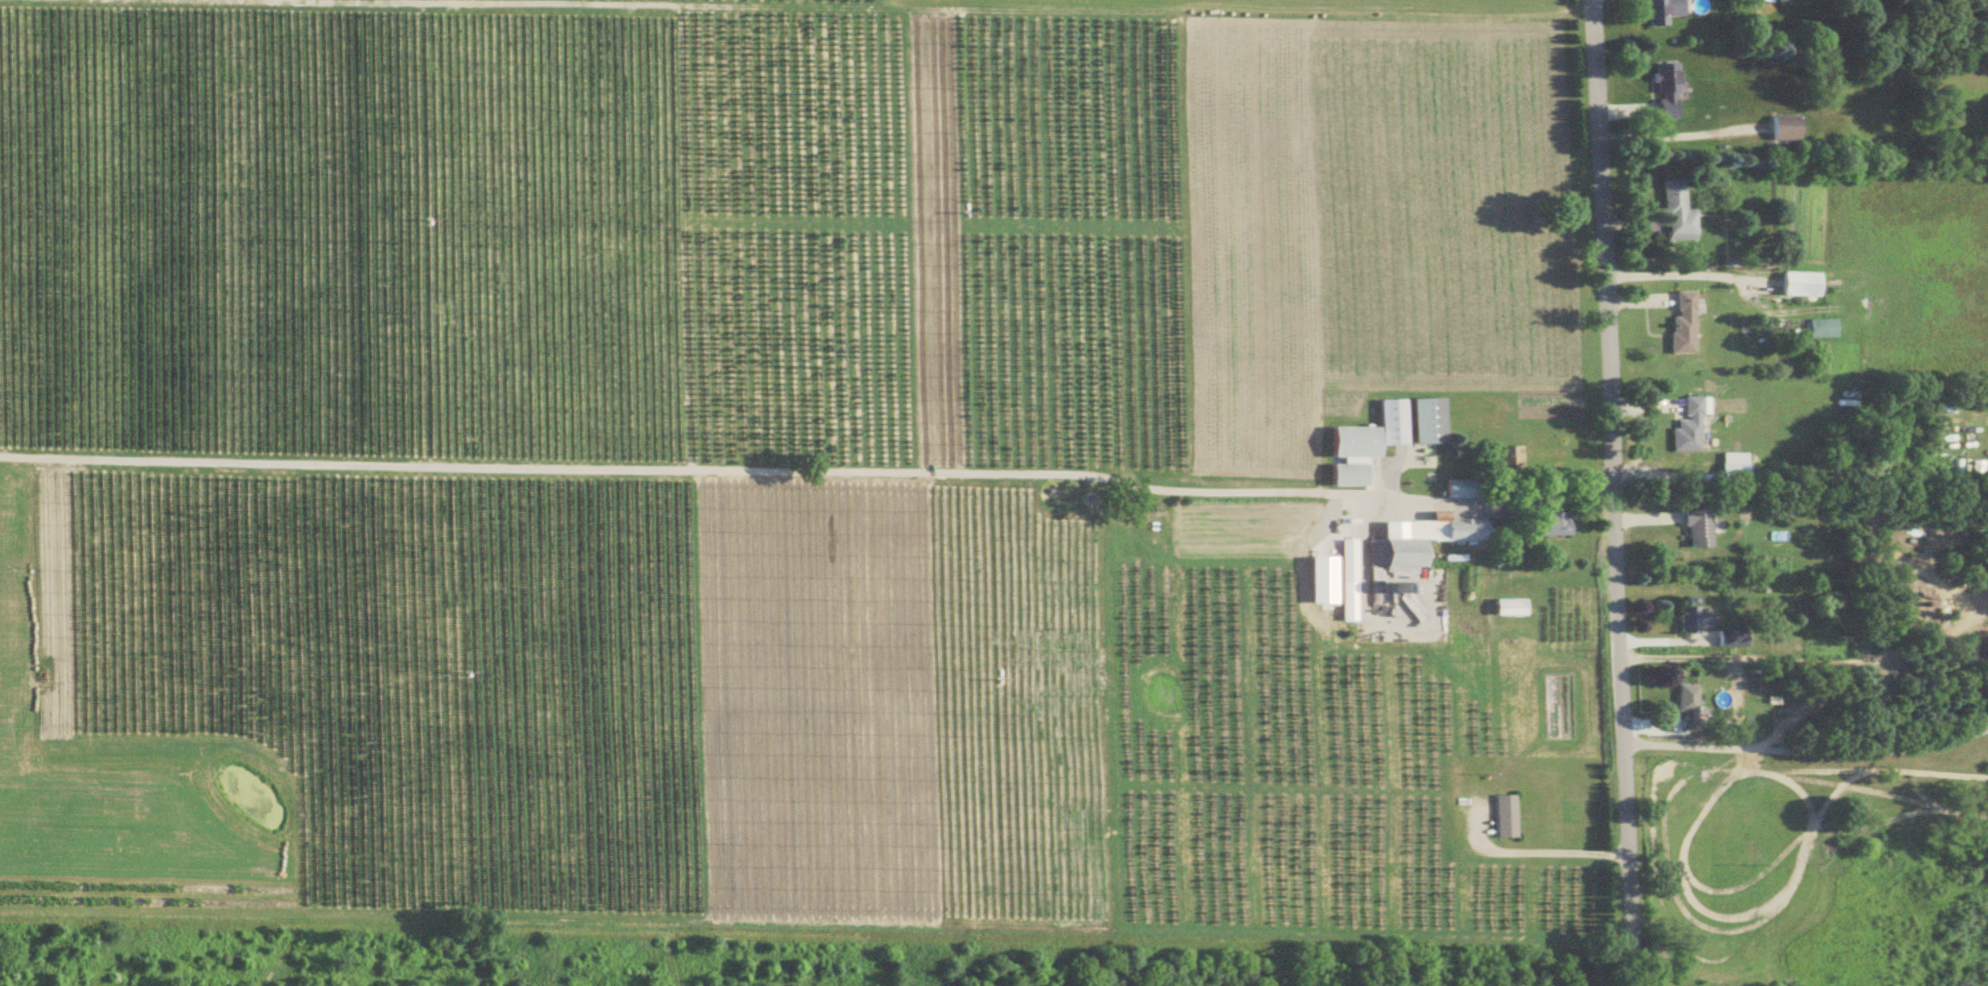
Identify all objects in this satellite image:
building: (1788, 1)
building: (1660, 11)
building: (1664, 93)
building: (1781, 129)
building: (1674, 215)
building: (1795, 286)
building: (1679, 326)
building: (1818, 330)
building: (1421, 423)
building: (1388, 424)
building: (1685, 426)
building: (1345, 457)
crop: (781, 469)
building: (1729, 471)
road: (662, 472)
building: (1455, 490)
road: (1612, 492)
road: (1467, 508)
building: (1543, 526)
building: (1693, 530)
building: (1415, 541)
building: (1344, 582)
building: (1406, 605)
building: (1505, 609)
building: (1691, 621)
building: (1728, 641)
building: (1683, 708)
road: (1806, 752)
building: (1501, 818)
road: (1535, 854)

